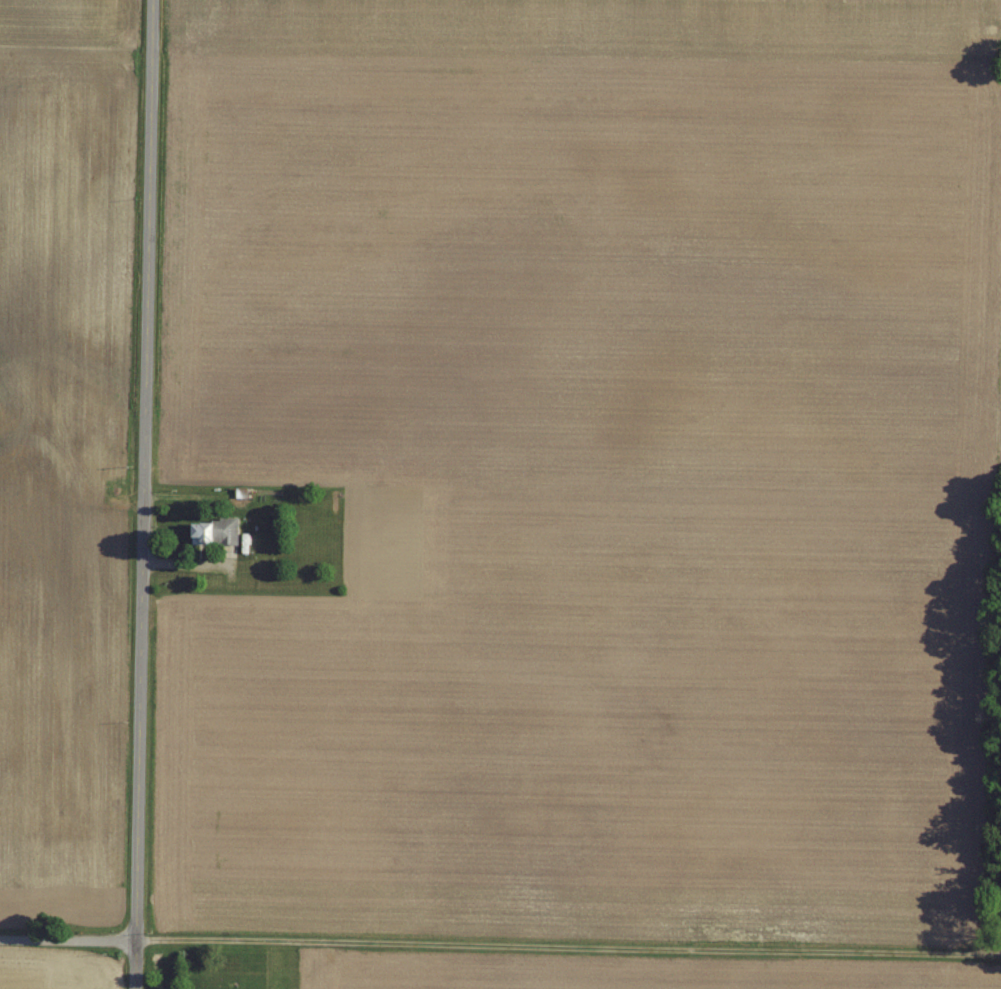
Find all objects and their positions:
road: (143, 494)
road: (67, 940)

